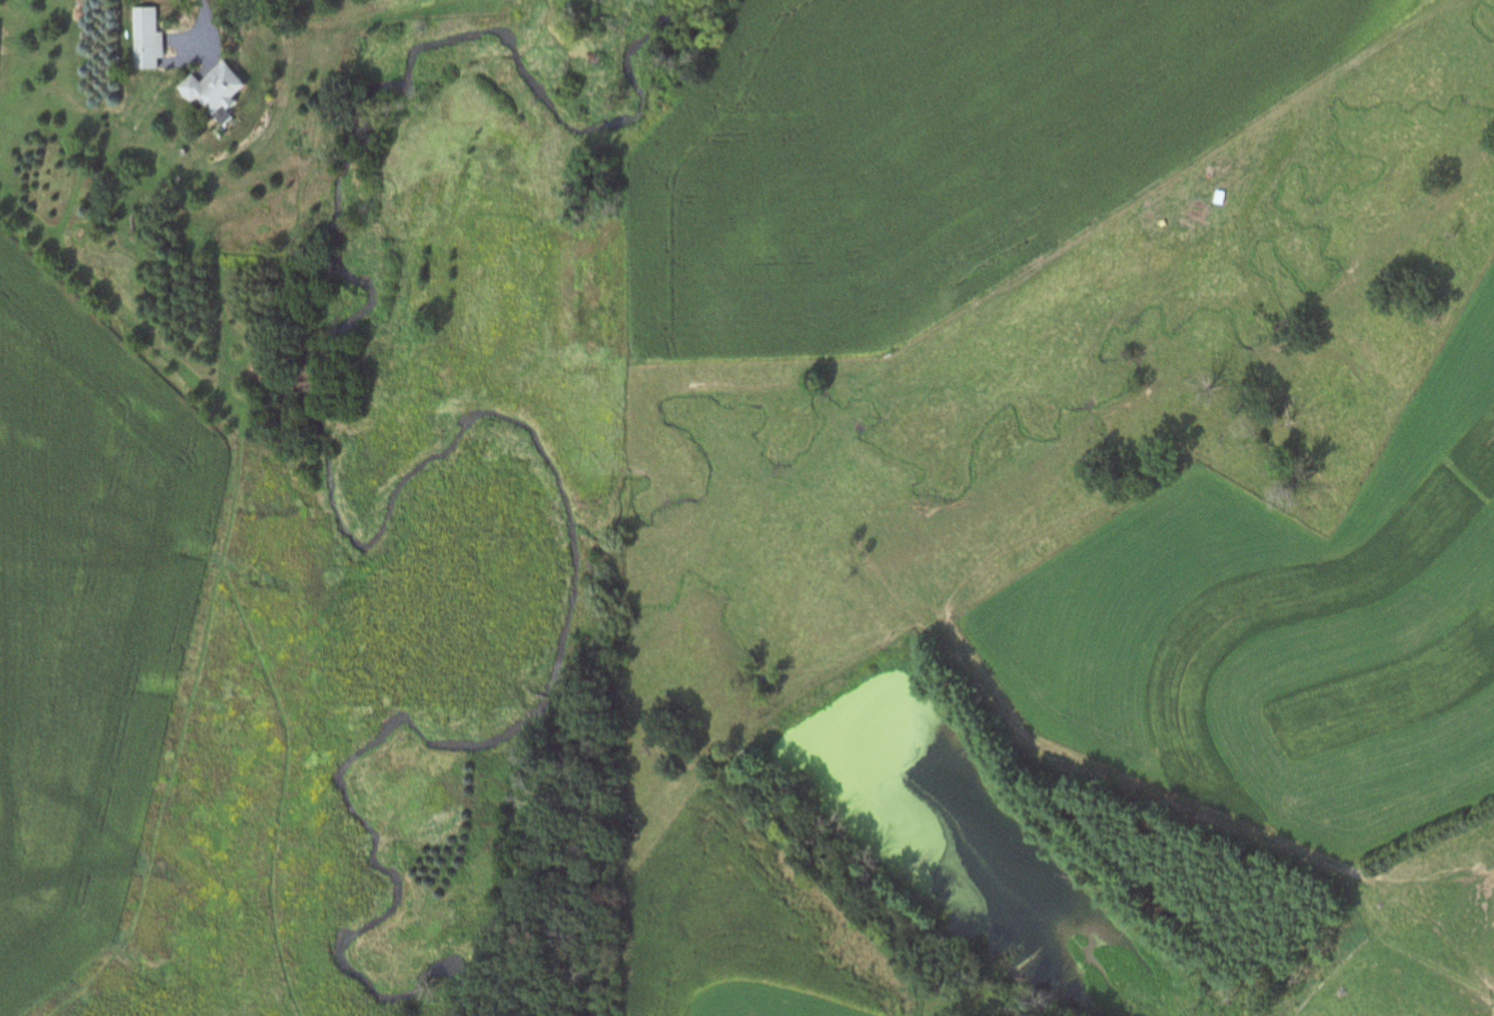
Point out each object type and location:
road: (204, 28)
building: (147, 50)
building: (211, 88)

